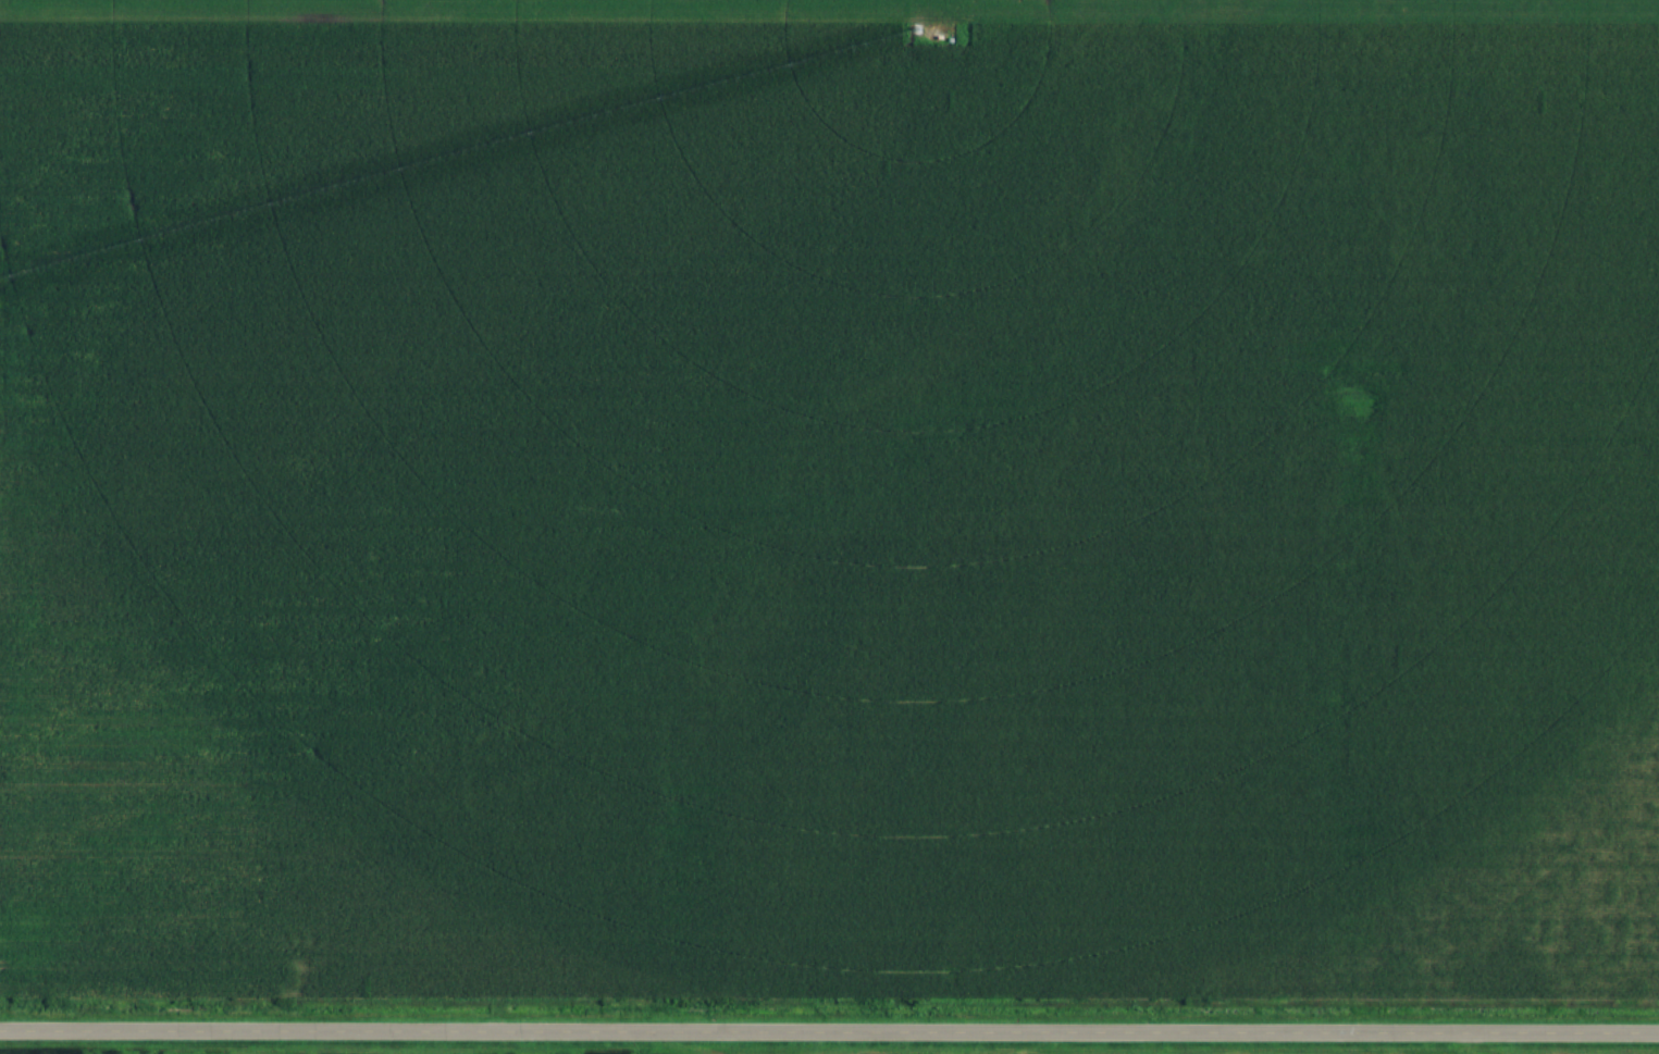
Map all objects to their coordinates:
road: (829, 1039)

